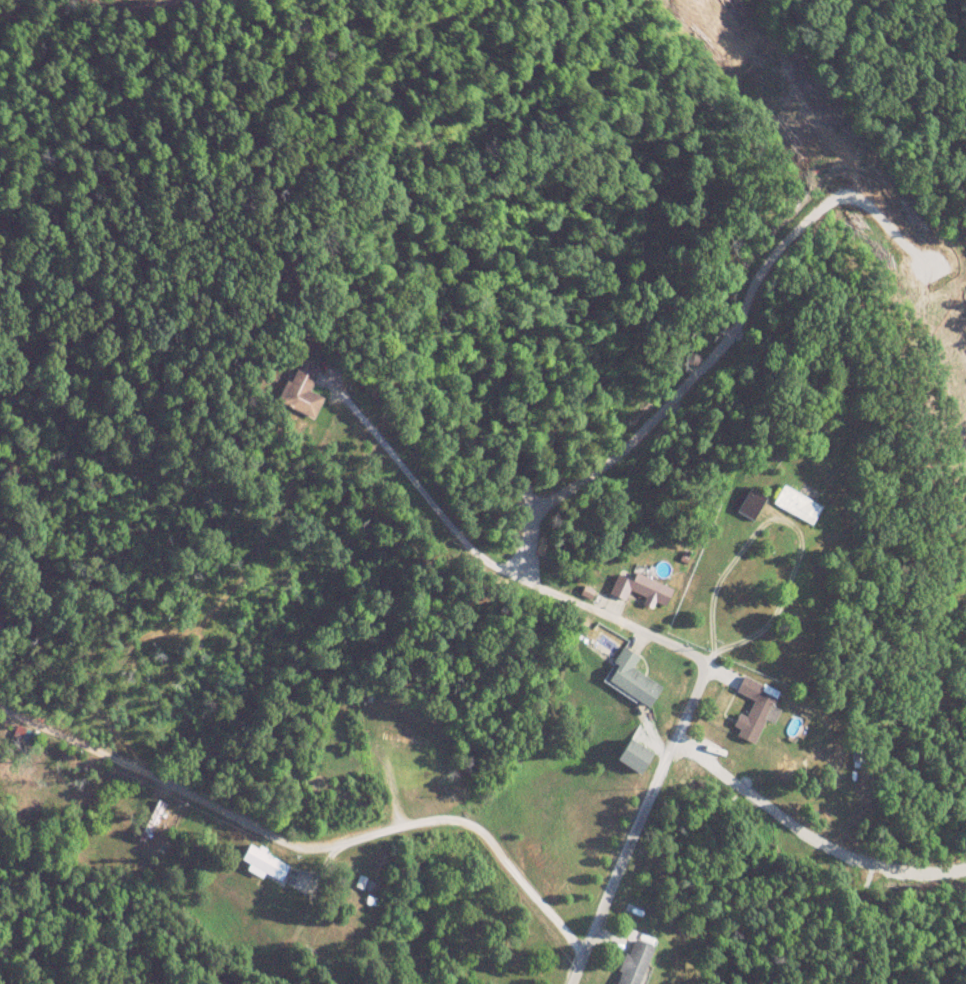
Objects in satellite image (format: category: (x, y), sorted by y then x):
building: (303, 377)
building: (643, 588)
building: (1, 627)
road: (650, 635)
building: (635, 679)
building: (757, 710)
building: (402, 737)
road: (809, 835)
road: (308, 841)
building: (266, 864)
building: (637, 963)

